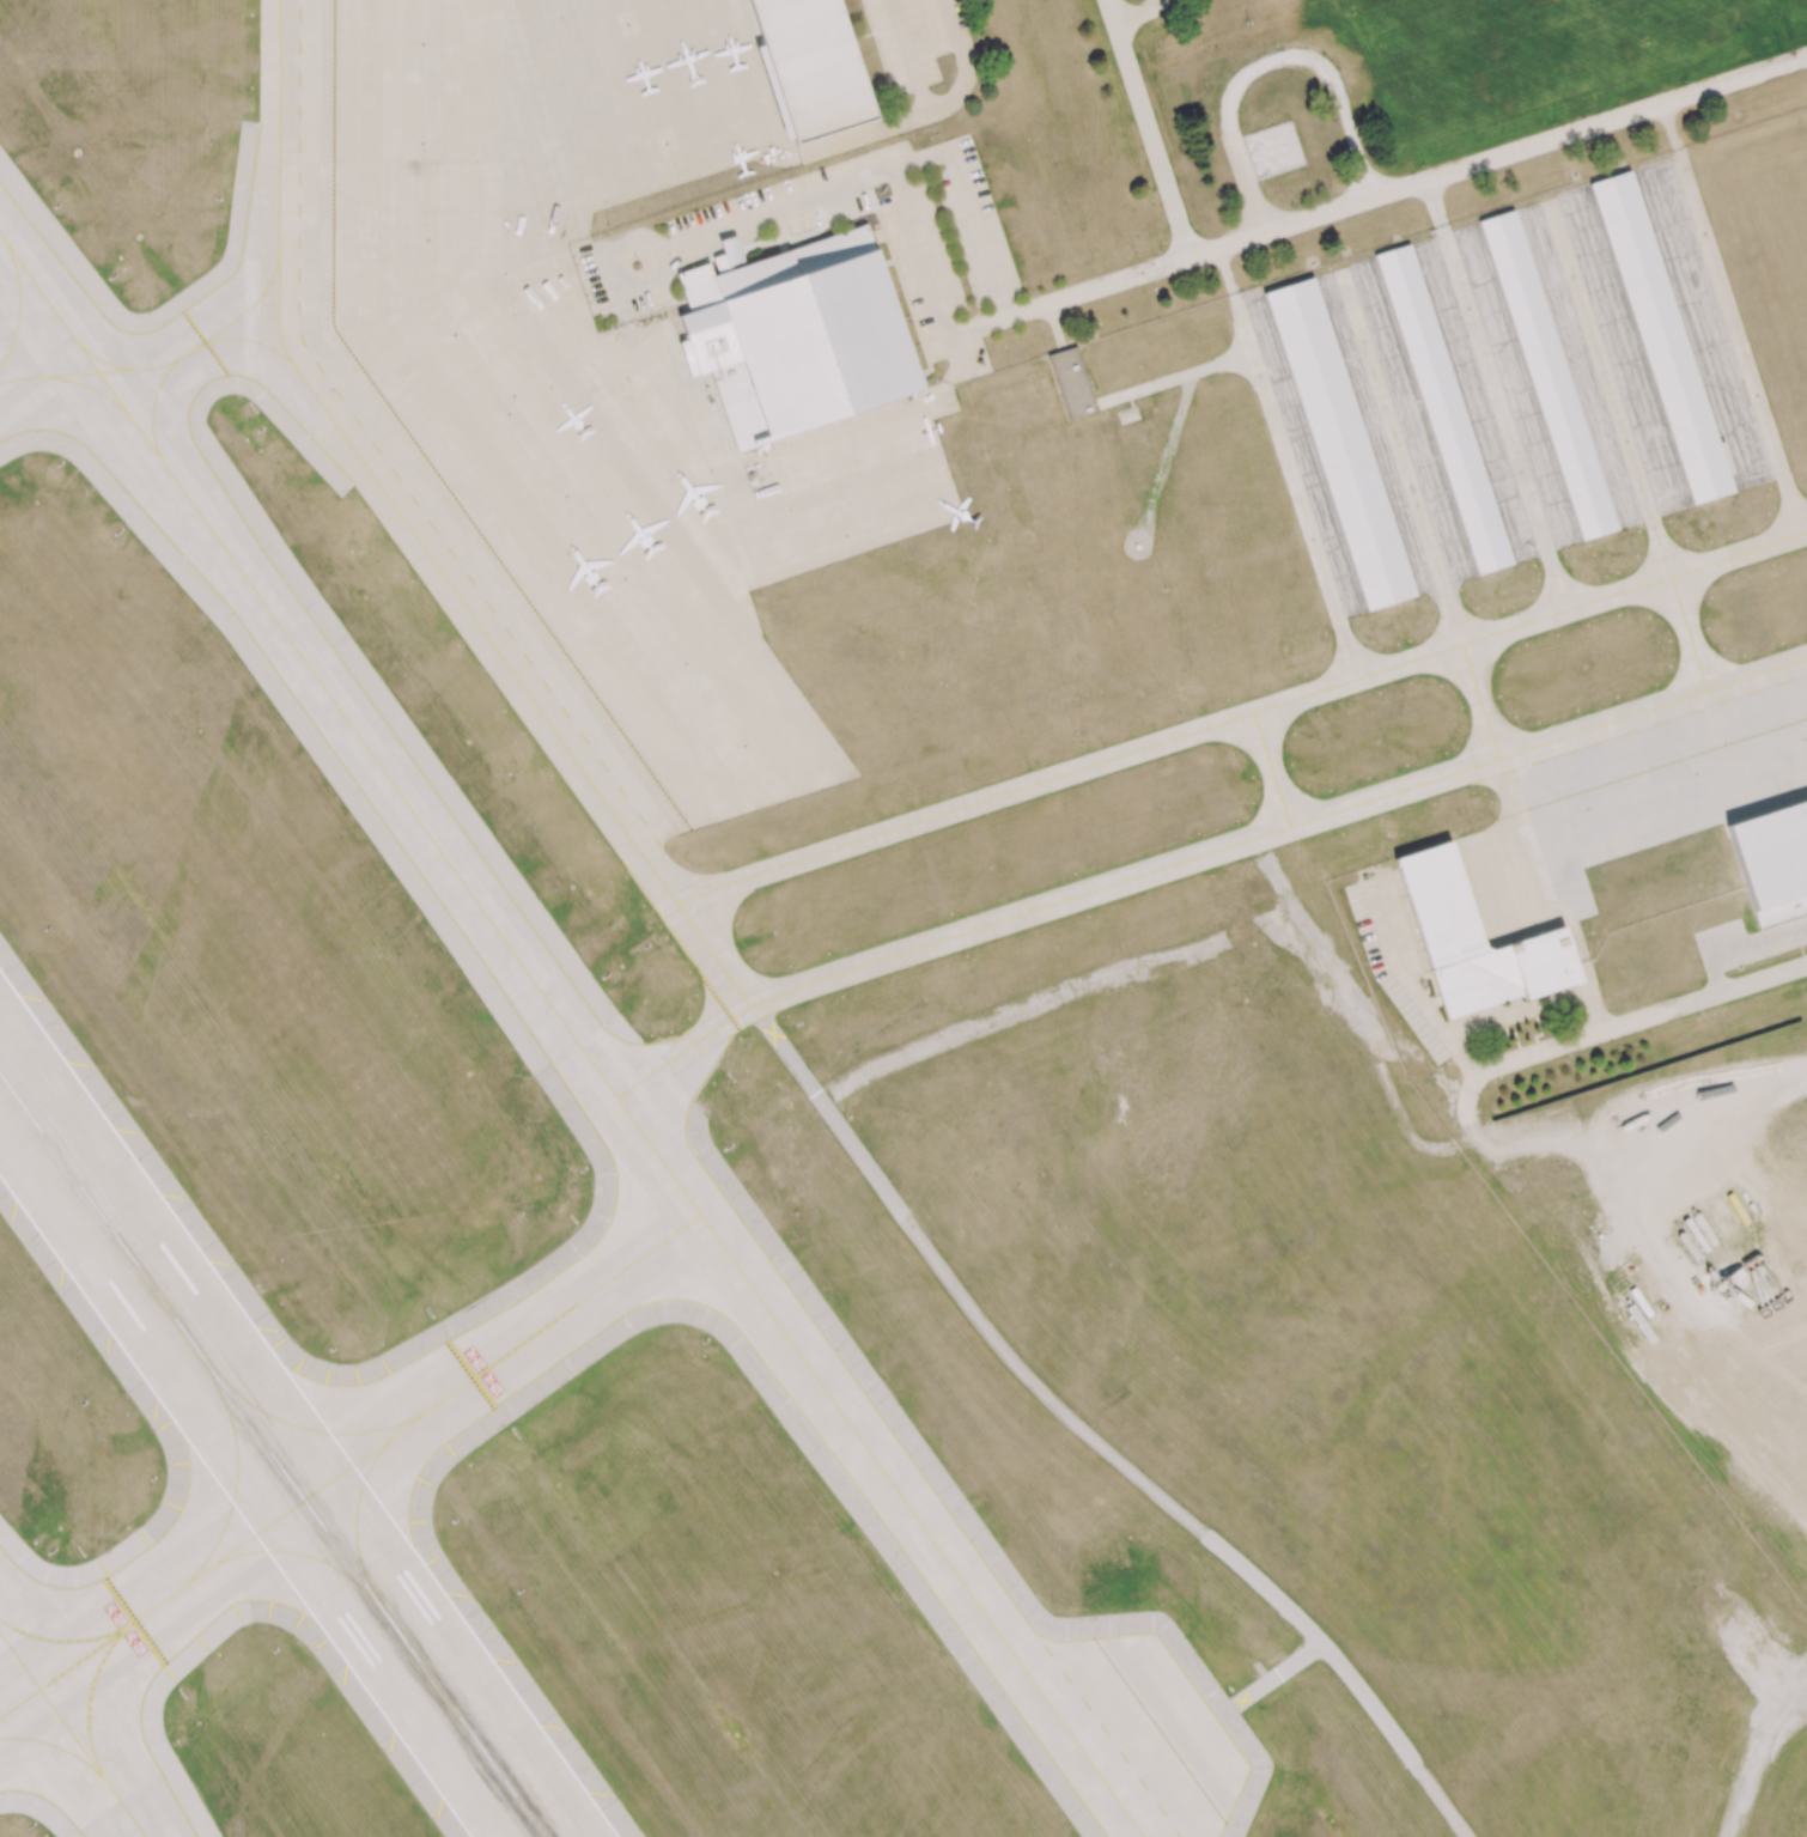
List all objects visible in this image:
road: (1138, 14)
parking lot: (914, 37)
road: (908, 56)
road: (1267, 61)
building: (810, 66)
road: (917, 115)
road: (1148, 129)
road: (1672, 129)
road: (884, 177)
airport taxiway: (279, 183)
road: (1393, 193)
road: (1437, 206)
road: (632, 244)
parking lot: (658, 250)
road: (924, 274)
road: (1228, 276)
airport taxiway: (19, 306)
airport hangar: (1660, 336)
building: (1660, 336)
airport hangar: (798, 337)
building: (798, 337)
airport taxiway: (1740, 343)
airport taxiway: (189, 349)
airport taxiway: (185, 352)
airport apron: (584, 369)
airport taxiway: (68, 375)
airport hangar: (1547, 375)
building: (1547, 375)
building: (1072, 384)
airport taxiway: (93, 388)
airport hangar: (1443, 409)
building: (1443, 409)
airport taxiway: (1507, 421)
airport hangar: (1340, 444)
building: (1340, 444)
airport taxiway: (1625, 445)
airport taxiway: (1400, 457)
airport taxiway: (1296, 492)
airport taxiway: (1633, 588)
airport taxiway: (1355, 677)
airport taxiway: (522, 683)
airport taxiway: (1267, 771)
airport taxiway: (1499, 772)
airport apron: (1630, 796)
airport taxiway: (963, 805)
airport taxiway: (1201, 854)
airport hangar: (1773, 860)
building: (1773, 860)
airport: (903, 918)
building: (1473, 938)
parking lot: (1778, 939)
parking lot: (1398, 955)
road: (1417, 989)
road: (740, 991)
road: (1649, 1017)
airport taxiway: (572, 1034)
airport taxiway: (300, 1427)
airport runway: (272, 1454)
airport taxiway: (351, 1467)
airport taxiway: (235, 1478)
airport taxiway: (357, 1508)
airport taxiway: (303, 1553)
airport taxiway: (67, 1640)
airport taxiway: (92, 1690)
airport apron: (1140, 1732)
airport taxiway: (74, 1733)
airport taxiway: (53, 1745)
road: (1766, 1756)

